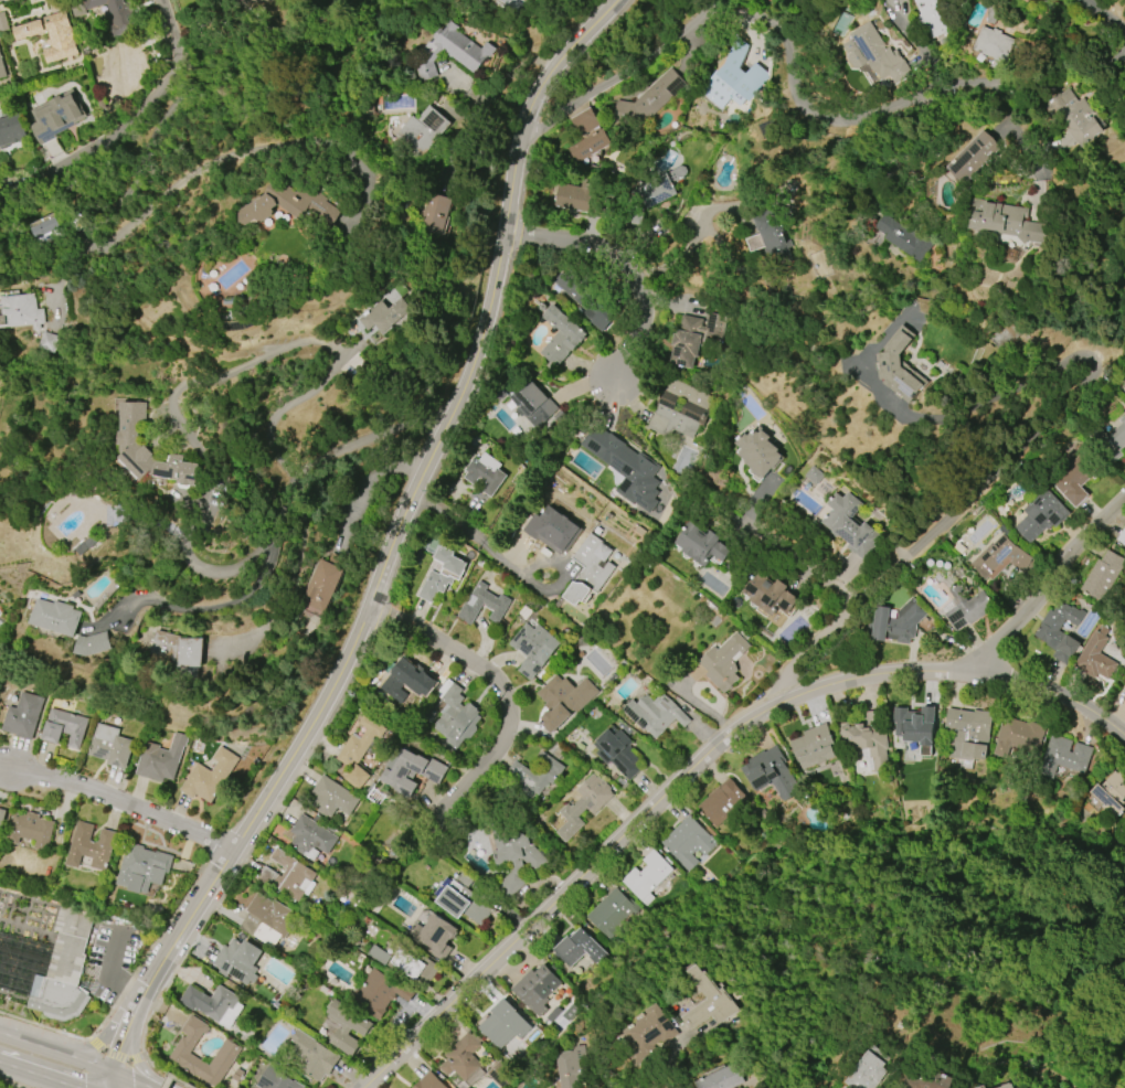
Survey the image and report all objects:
building: (1027, 0)
road: (3, 1)
building: (1032, 1)
building: (115, 12)
road: (1108, 14)
building: (931, 17)
building: (50, 34)
building: (993, 46)
building: (457, 51)
building: (875, 53)
building: (129, 68)
building: (1, 71)
building: (756, 75)
road: (617, 76)
road: (1069, 84)
building: (647, 98)
building: (55, 117)
building: (1074, 117)
road: (821, 118)
building: (584, 121)
road: (126, 125)
building: (11, 128)
building: (426, 129)
building: (587, 146)
building: (974, 158)
building: (661, 188)
building: (572, 194)
road: (157, 201)
building: (297, 205)
building: (435, 213)
building: (1008, 221)
building: (46, 227)
building: (770, 237)
building: (902, 237)
road: (648, 258)
road: (620, 267)
building: (582, 300)
building: (21, 311)
building: (384, 316)
building: (561, 335)
building: (1005, 337)
building: (692, 338)
building: (902, 369)
building: (1124, 391)
building: (528, 403)
building: (678, 410)
building: (1111, 440)
building: (150, 451)
building: (758, 452)
building: (624, 467)
building: (482, 473)
building: (814, 476)
building: (1075, 478)
building: (1041, 515)
building: (851, 525)
building: (1122, 537)
road: (476, 542)
road: (296, 545)
building: (701, 545)
road: (388, 552)
building: (577, 554)
building: (999, 558)
building: (442, 574)
building: (1100, 575)
building: (323, 582)
road: (836, 585)
road: (1044, 587)
building: (771, 594)
building: (482, 605)
building: (967, 606)
building: (56, 617)
building: (898, 622)
building: (1058, 632)
building: (0, 641)
building: (93, 644)
building: (532, 648)
building: (182, 652)
building: (1095, 658)
building: (723, 662)
road: (923, 671)
building: (407, 683)
road: (500, 689)
building: (1124, 695)
building: (563, 700)
building: (654, 714)
building: (454, 715)
building: (22, 716)
building: (914, 724)
building: (63, 728)
building: (968, 732)
building: (1017, 737)
building: (867, 740)
building: (360, 742)
building: (109, 746)
building: (813, 746)
building: (616, 753)
building: (1065, 757)
building: (159, 759)
building: (771, 774)
building: (534, 775)
building: (209, 776)
building: (393, 776)
building: (355, 777)
building: (1113, 793)
building: (330, 798)
road: (123, 802)
building: (721, 802)
building: (582, 804)
building: (2, 818)
building: (30, 830)
building: (309, 838)
building: (688, 843)
building: (91, 846)
building: (512, 858)
building: (142, 868)
building: (289, 876)
building: (648, 876)
building: (460, 898)
building: (613, 911)
road: (542, 913)
building: (267, 919)
building: (435, 936)
building: (577, 948)
building: (380, 954)
building: (237, 961)
building: (408, 964)
building: (65, 969)
road: (107, 973)
building: (535, 989)
building: (378, 994)
building: (705, 1002)
building: (213, 1004)
building: (499, 1025)
building: (346, 1027)
road: (119, 1028)
building: (646, 1030)
road: (132, 1039)
traffic signals: (108, 1042)
road: (91, 1052)
building: (227, 1052)
road: (55, 1053)
building: (314, 1056)
building: (464, 1060)
traffic signals: (140, 1064)
building: (571, 1065)
building: (867, 1073)
traffic signals: (112, 1074)
road: (35, 1075)
road: (171, 1076)
road: (150, 1077)
building: (722, 1078)
building: (276, 1079)
building: (927, 1079)
road: (128, 1080)
road: (166, 1081)
building: (428, 1081)
building: (1007, 1086)

